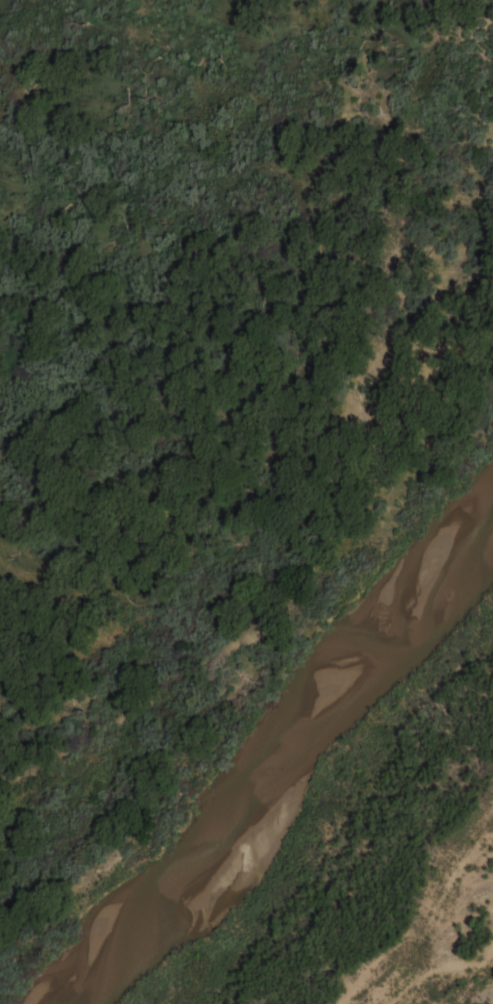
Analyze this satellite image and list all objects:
river: (364, 875)

